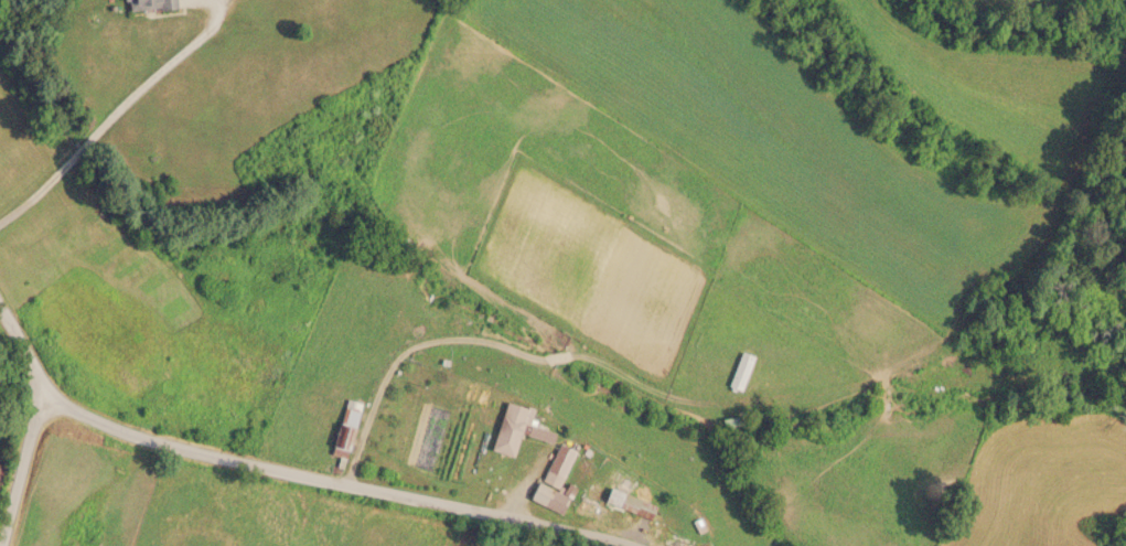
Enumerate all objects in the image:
building: (144, 4)
road: (25, 346)
building: (739, 371)
building: (343, 427)
building: (513, 429)
road: (22, 470)
building: (553, 474)
road: (337, 480)
building: (633, 506)

